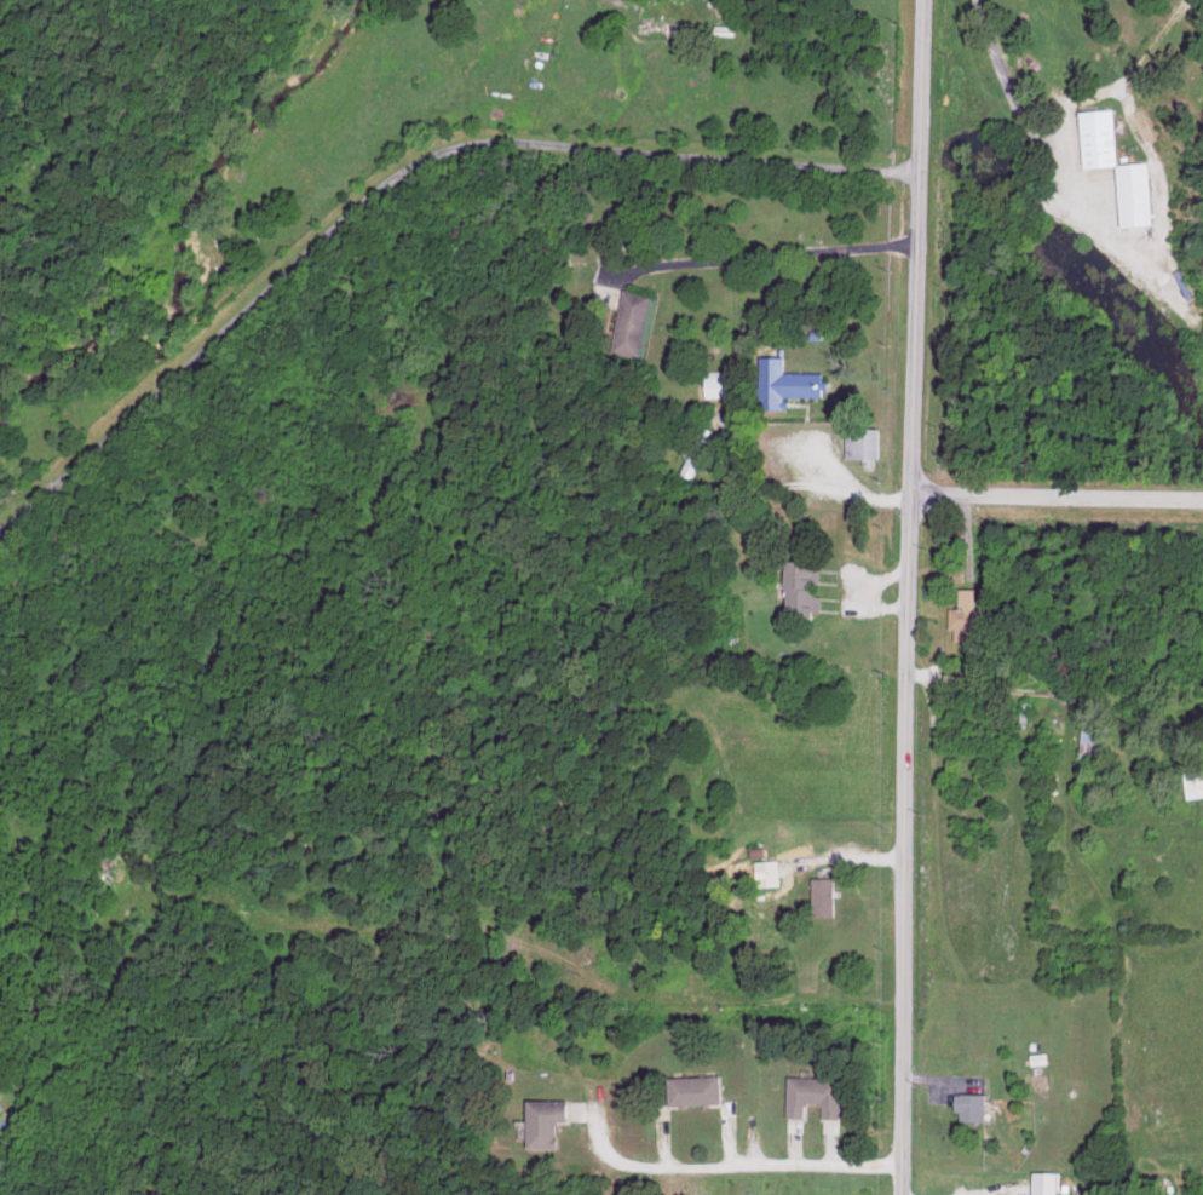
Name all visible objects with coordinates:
building: (1101, 137)
road: (395, 178)
building: (1138, 193)
road: (922, 247)
building: (632, 321)
building: (719, 381)
building: (788, 383)
building: (865, 442)
building: (698, 450)
road: (846, 492)
road: (1057, 501)
building: (796, 587)
road: (910, 597)
building: (962, 615)
building: (1089, 742)
building: (1192, 782)
building: (762, 872)
building: (819, 895)
road: (592, 952)
building: (690, 1088)
building: (810, 1093)
building: (1, 1104)
building: (967, 1104)
building: (539, 1120)
road: (730, 1167)
building: (1038, 1182)

